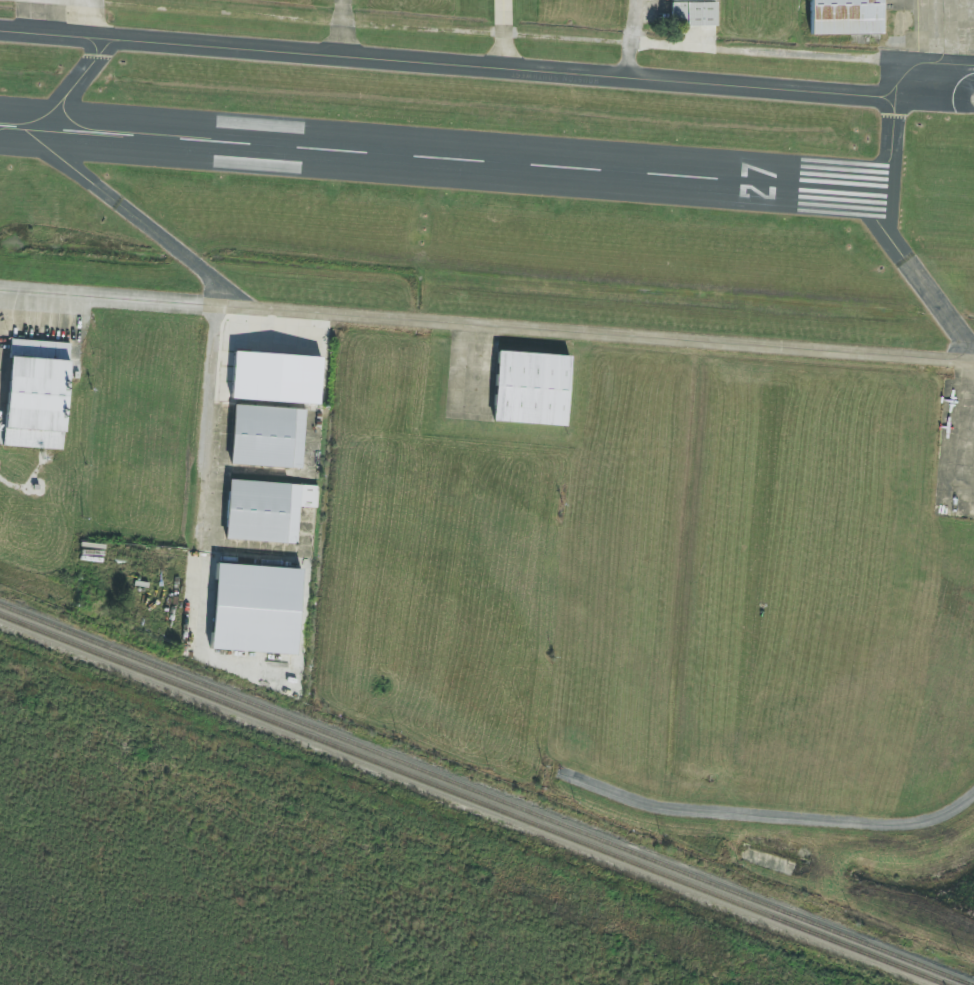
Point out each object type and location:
airport apron: (48, 10)
airport apron: (647, 11)
airport hangar: (693, 13)
building: (693, 13)
airport hangar: (844, 17)
building: (844, 17)
airport apron: (341, 26)
airport apron: (503, 31)
airport taxiway: (632, 32)
road: (521, 33)
airport taxiway: (341, 34)
airport apron: (928, 40)
airport taxiway: (490, 57)
airport taxiway: (476, 77)
airport runway: (900, 191)
airport taxiway: (864, 226)
airport taxiway: (251, 301)
airport taxiway: (202, 305)
airport taxiway: (202, 308)
airport apron: (40, 339)
airport apron: (486, 367)
building: (275, 378)
airport: (526, 388)
building: (530, 389)
airport hangar: (34, 394)
building: (34, 394)
airport hangar: (267, 437)
building: (267, 437)
airport apron: (956, 448)
airport hangar: (265, 510)
building: (265, 510)
building: (255, 609)
railway: (482, 795)
railway: (470, 800)

